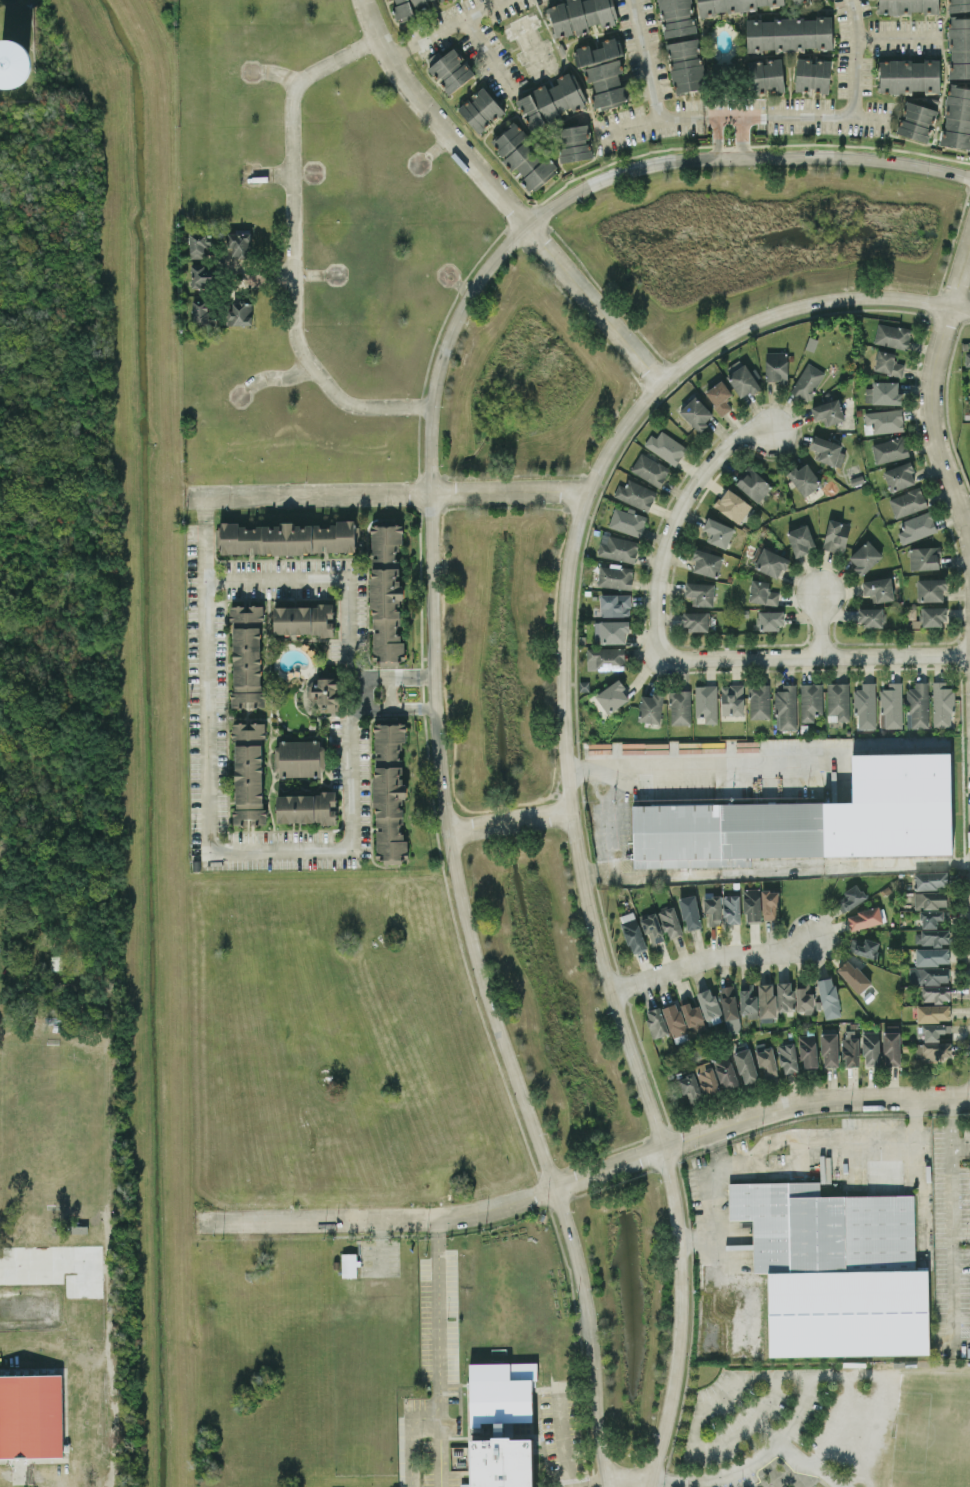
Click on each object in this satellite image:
building: (798, 1)
building: (731, 5)
building: (958, 5)
building: (411, 6)
building: (907, 6)
building: (580, 15)
building: (676, 17)
road: (442, 26)
building: (789, 33)
road: (898, 36)
road: (492, 44)
building: (959, 46)
road: (858, 57)
road: (652, 60)
building: (16, 62)
water tower: (13, 64)
building: (685, 65)
building: (448, 69)
building: (603, 72)
building: (765, 74)
building: (812, 74)
building: (909, 75)
building: (551, 99)
building: (480, 109)
road: (753, 116)
building: (957, 116)
building: (916, 121)
road: (743, 137)
road: (717, 138)
building: (573, 142)
building: (523, 156)
road: (503, 196)
building: (199, 243)
building: (240, 244)
road: (298, 249)
building: (201, 276)
building: (201, 312)
building: (240, 313)
building: (892, 335)
building: (967, 358)
building: (887, 363)
building: (776, 365)
road: (276, 376)
building: (741, 378)
building: (807, 381)
building: (886, 392)
building: (719, 396)
road: (933, 398)
building: (828, 411)
building: (696, 413)
building: (883, 421)
building: (665, 447)
building: (889, 449)
building: (827, 451)
building: (650, 469)
building: (899, 475)
building: (804, 478)
building: (753, 484)
road: (396, 494)
building: (635, 494)
building: (907, 501)
road: (437, 502)
road: (574, 502)
building: (733, 505)
road: (503, 507)
road: (675, 518)
building: (627, 521)
building: (917, 526)
building: (836, 535)
building: (287, 537)
building: (800, 539)
building: (617, 548)
building: (864, 556)
building: (923, 557)
building: (772, 561)
building: (706, 562)
building: (615, 576)
road: (442, 581)
building: (878, 588)
building: (930, 589)
building: (386, 591)
building: (762, 592)
building: (700, 593)
building: (615, 604)
building: (870, 617)
building: (303, 619)
building: (695, 620)
building: (770, 620)
road: (432, 623)
road: (819, 625)
building: (612, 630)
building: (247, 655)
road: (815, 657)
building: (605, 658)
road: (396, 678)
building: (324, 693)
road: (392, 693)
building: (612, 696)
building: (732, 699)
building: (810, 700)
building: (758, 701)
building: (837, 701)
building: (706, 703)
building: (942, 704)
building: (865, 705)
building: (891, 705)
building: (918, 705)
building: (679, 706)
road: (396, 707)
building: (650, 707)
building: (785, 707)
building: (298, 757)
road: (705, 763)
road: (567, 764)
building: (248, 772)
road: (556, 778)
building: (389, 791)
building: (306, 807)
building: (896, 808)
road: (510, 822)
building: (724, 832)
road: (325, 847)
building: (931, 879)
building: (850, 898)
building: (930, 899)
building: (751, 904)
building: (769, 904)
building: (712, 907)
building: (731, 908)
building: (690, 912)
building: (930, 917)
building: (865, 918)
building: (669, 921)
building: (652, 927)
building: (632, 931)
building: (932, 937)
building: (864, 947)
building: (932, 956)
road: (709, 959)
building: (932, 974)
building: (854, 976)
building: (936, 993)
building: (784, 996)
building: (828, 996)
building: (868, 996)
building: (803, 997)
building: (747, 998)
building: (766, 999)
building: (728, 1002)
building: (709, 1006)
building: (933, 1012)
building: (692, 1015)
building: (674, 1020)
building: (655, 1021)
building: (933, 1031)
building: (850, 1047)
building: (870, 1047)
building: (891, 1048)
building: (829, 1049)
building: (808, 1050)
building: (933, 1051)
building: (787, 1057)
building: (767, 1062)
building: (746, 1065)
building: (725, 1072)
building: (707, 1078)
building: (689, 1087)
road: (779, 1140)
road: (960, 1142)
road: (718, 1150)
road: (586, 1176)
road: (950, 1221)
building: (348, 1264)
building: (848, 1313)
building: (745, 1321)
road: (438, 1353)
road: (786, 1374)
building: (31, 1416)
road: (425, 1416)
park: (934, 1432)
road: (564, 1439)
road: (705, 1445)
road: (411, 1451)
road: (797, 1458)
road: (753, 1460)
road: (627, 1479)
road: (588, 1480)
road: (60, 1486)

